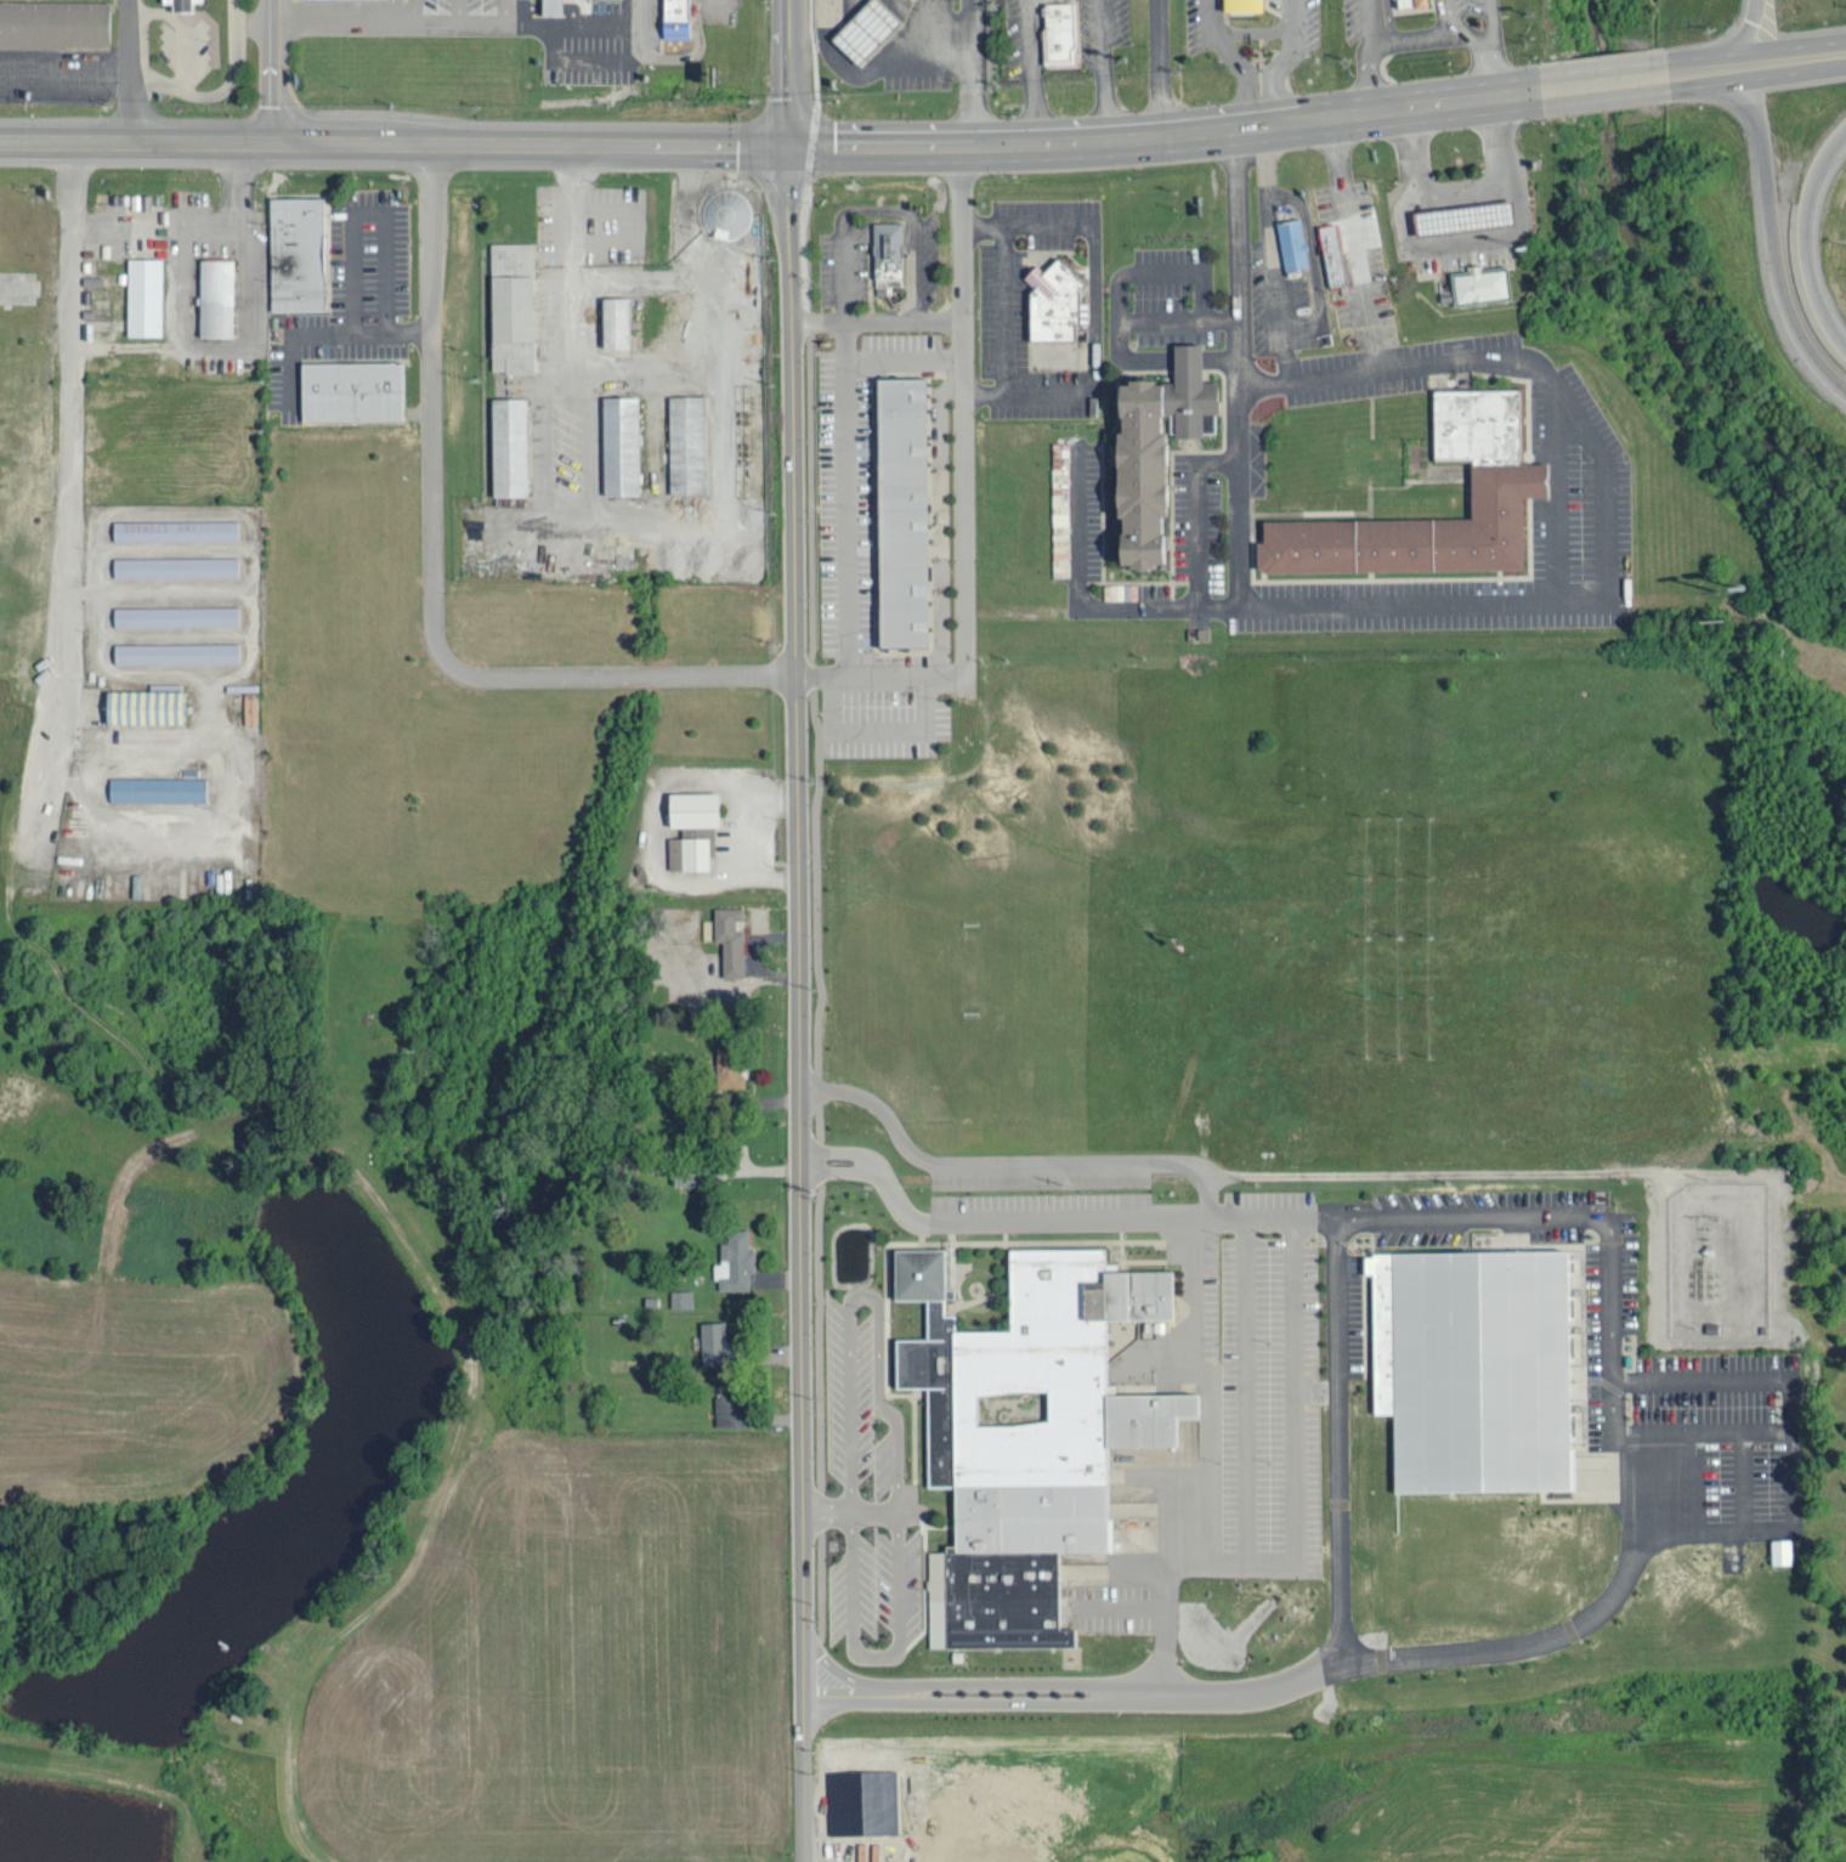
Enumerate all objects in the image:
building: (324, 0)
gas station: (324, 0)
building: (1412, 2)
building: (553, 6)
building: (183, 7)
parking lot: (458, 7)
road: (415, 12)
road: (461, 12)
road: (508, 12)
road: (638, 13)
building: (1268, 15)
building: (676, 18)
building: (55, 22)
road: (457, 26)
road: (182, 30)
building: (866, 32)
building: (1059, 32)
road: (788, 33)
road: (1735, 44)
road: (1229, 51)
road: (1290, 51)
road: (1837, 53)
road: (1837, 57)
road: (962, 58)
road: (591, 61)
road: (1761, 64)
road: (236, 68)
road: (137, 70)
road: (277, 72)
road: (1675, 75)
road: (158, 79)
road: (1603, 84)
road: (788, 107)
road: (1262, 112)
road: (1234, 131)
road: (120, 142)
road: (458, 142)
road: (731, 145)
traffic signals: (788, 147)
road: (853, 147)
road: (367, 213)
building: (725, 213)
building: (1459, 220)
road: (917, 223)
road: (1771, 223)
road: (152, 226)
road: (1802, 240)
building: (1291, 245)
road: (1359, 245)
building: (888, 254)
road: (1270, 254)
building: (296, 256)
building: (1332, 256)
road: (1310, 259)
road: (1160, 270)
road: (842, 275)
building: (1478, 287)
building: (145, 296)
parking lot: (1168, 298)
building: (216, 300)
building: (1053, 302)
building: (513, 306)
building: (617, 322)
road: (815, 322)
road: (899, 322)
road: (327, 333)
road: (1117, 338)
road: (900, 357)
road: (1239, 368)
road: (1331, 375)
road: (1261, 381)
building: (352, 395)
building: (687, 443)
building: (622, 445)
building: (510, 446)
building: (1156, 455)
building: (1510, 483)
road: (958, 491)
road: (1555, 496)
road: (843, 497)
road: (68, 503)
building: (902, 514)
parking lot: (1581, 520)
parking lot: (1075, 525)
building: (176, 528)
building: (176, 566)
road: (1608, 573)
road: (431, 579)
road: (1087, 605)
building: (176, 616)
building: (176, 651)
building: (146, 702)
road: (876, 726)
building: (158, 787)
building: (693, 826)
building: (727, 936)
road: (797, 1003)
building: (729, 1064)
road: (833, 1151)
road: (832, 1175)
building: (689, 1176)
power substation: (1716, 1256)
building: (735, 1260)
building: (680, 1296)
building: (714, 1341)
building: (1476, 1365)
building: (732, 1409)
building: (1029, 1431)
road: (1609, 1449)
road: (1207, 1455)
building: (1782, 1549)
building: (1099, 1570)
building: (862, 1805)
building: (936, 1846)

